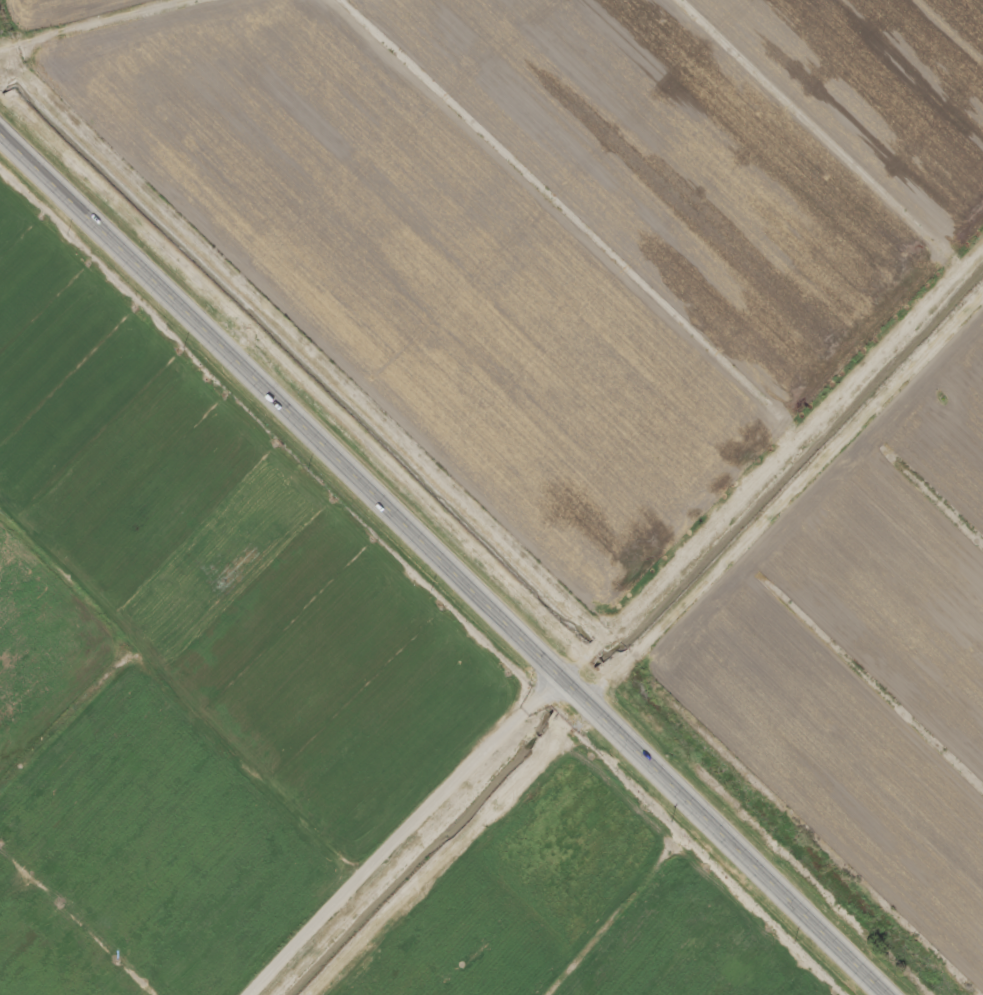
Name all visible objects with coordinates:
road: (777, 466)
road: (790, 507)
road: (445, 563)
road: (406, 836)

